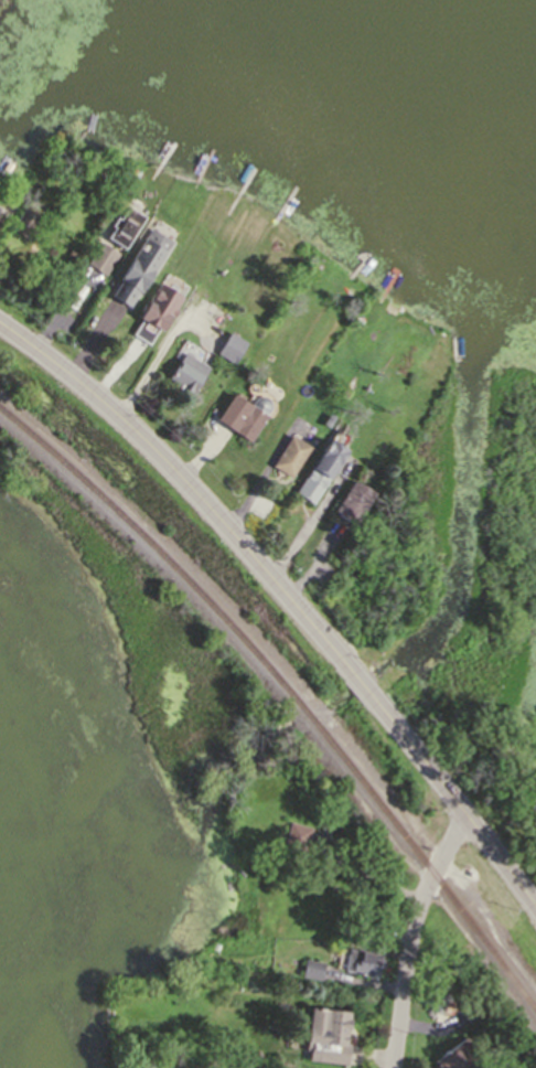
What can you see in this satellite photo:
building: (12, 202)
building: (1, 216)
building: (25, 216)
building: (122, 226)
building: (101, 257)
building: (136, 263)
building: (156, 311)
building: (232, 346)
road: (163, 354)
building: (186, 373)
building: (345, 391)
building: (242, 409)
building: (290, 456)
building: (321, 463)
building: (353, 501)
road: (310, 526)
road: (285, 592)
railway: (283, 691)
building: (323, 819)
building: (297, 836)
road: (416, 936)
building: (362, 961)
building: (310, 966)
building: (435, 1001)
building: (470, 1007)
building: (325, 1034)
building: (457, 1055)

